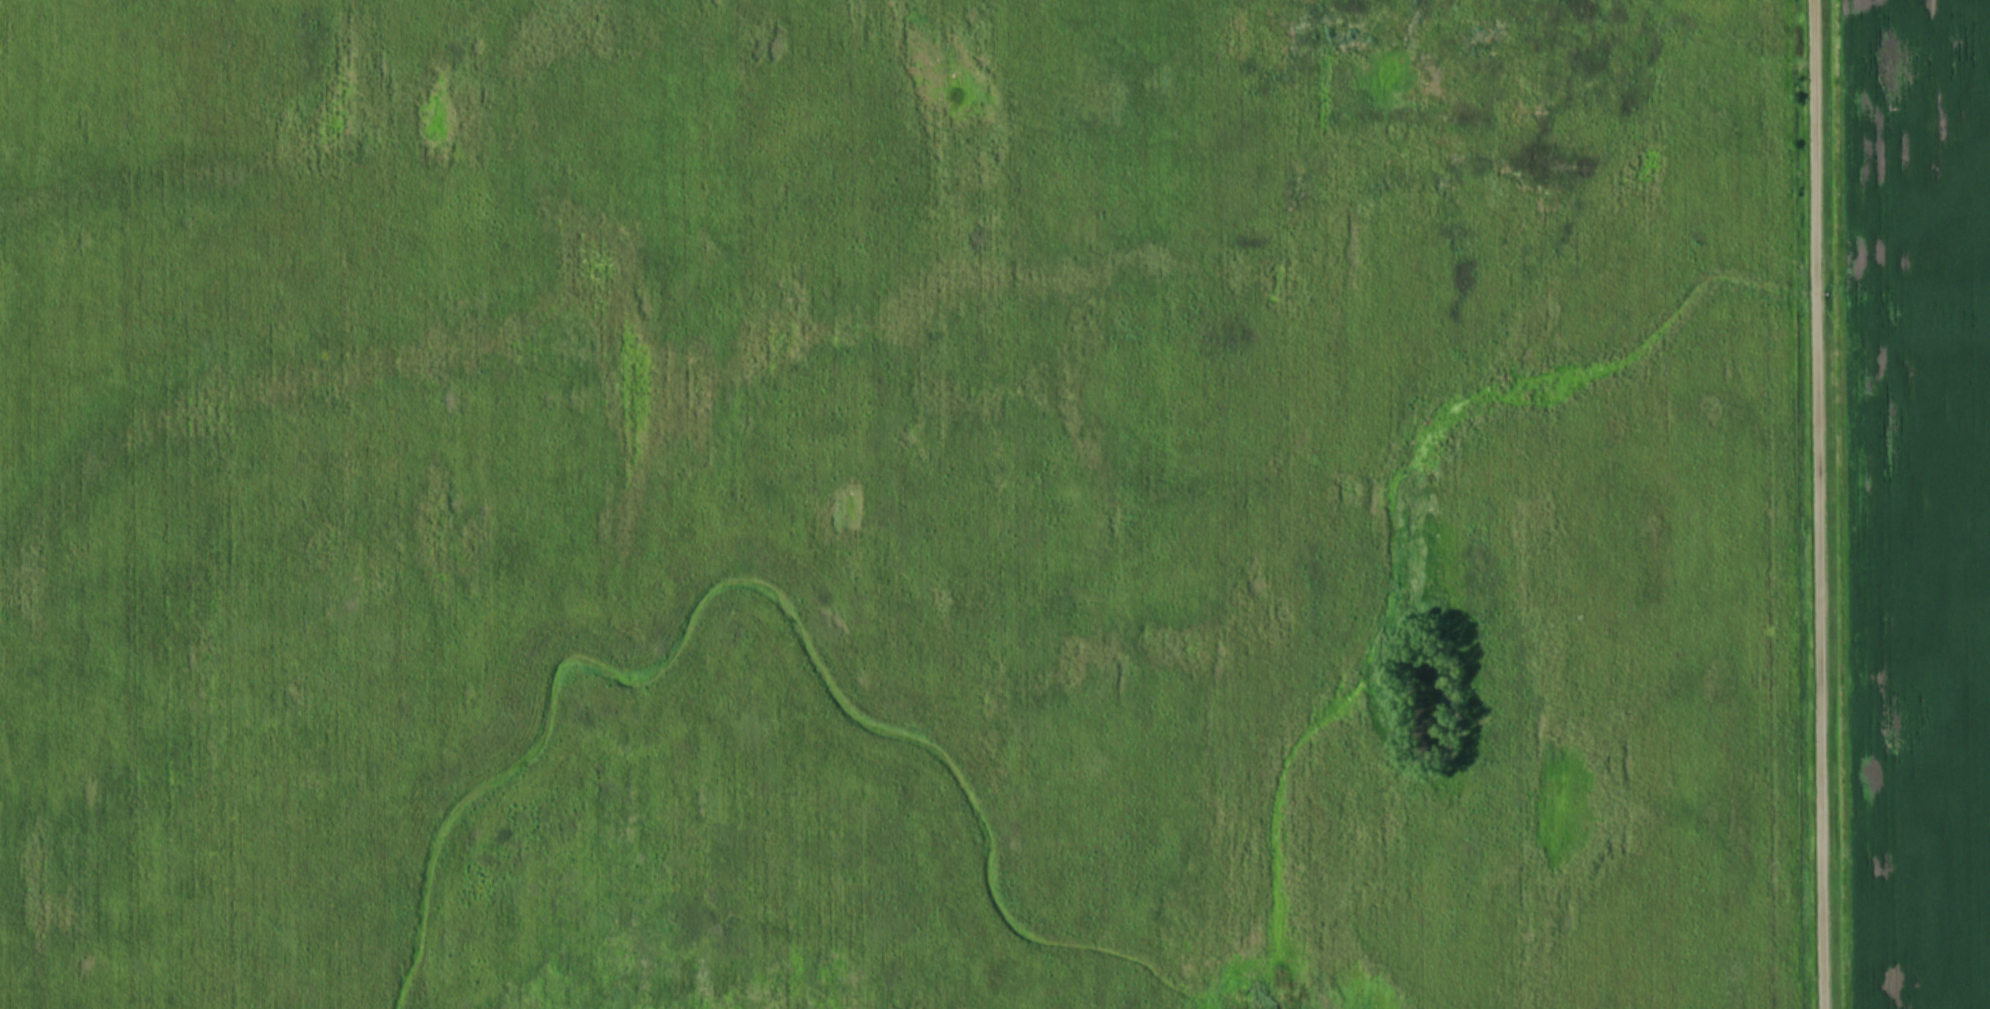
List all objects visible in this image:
road: (1811, 504)

